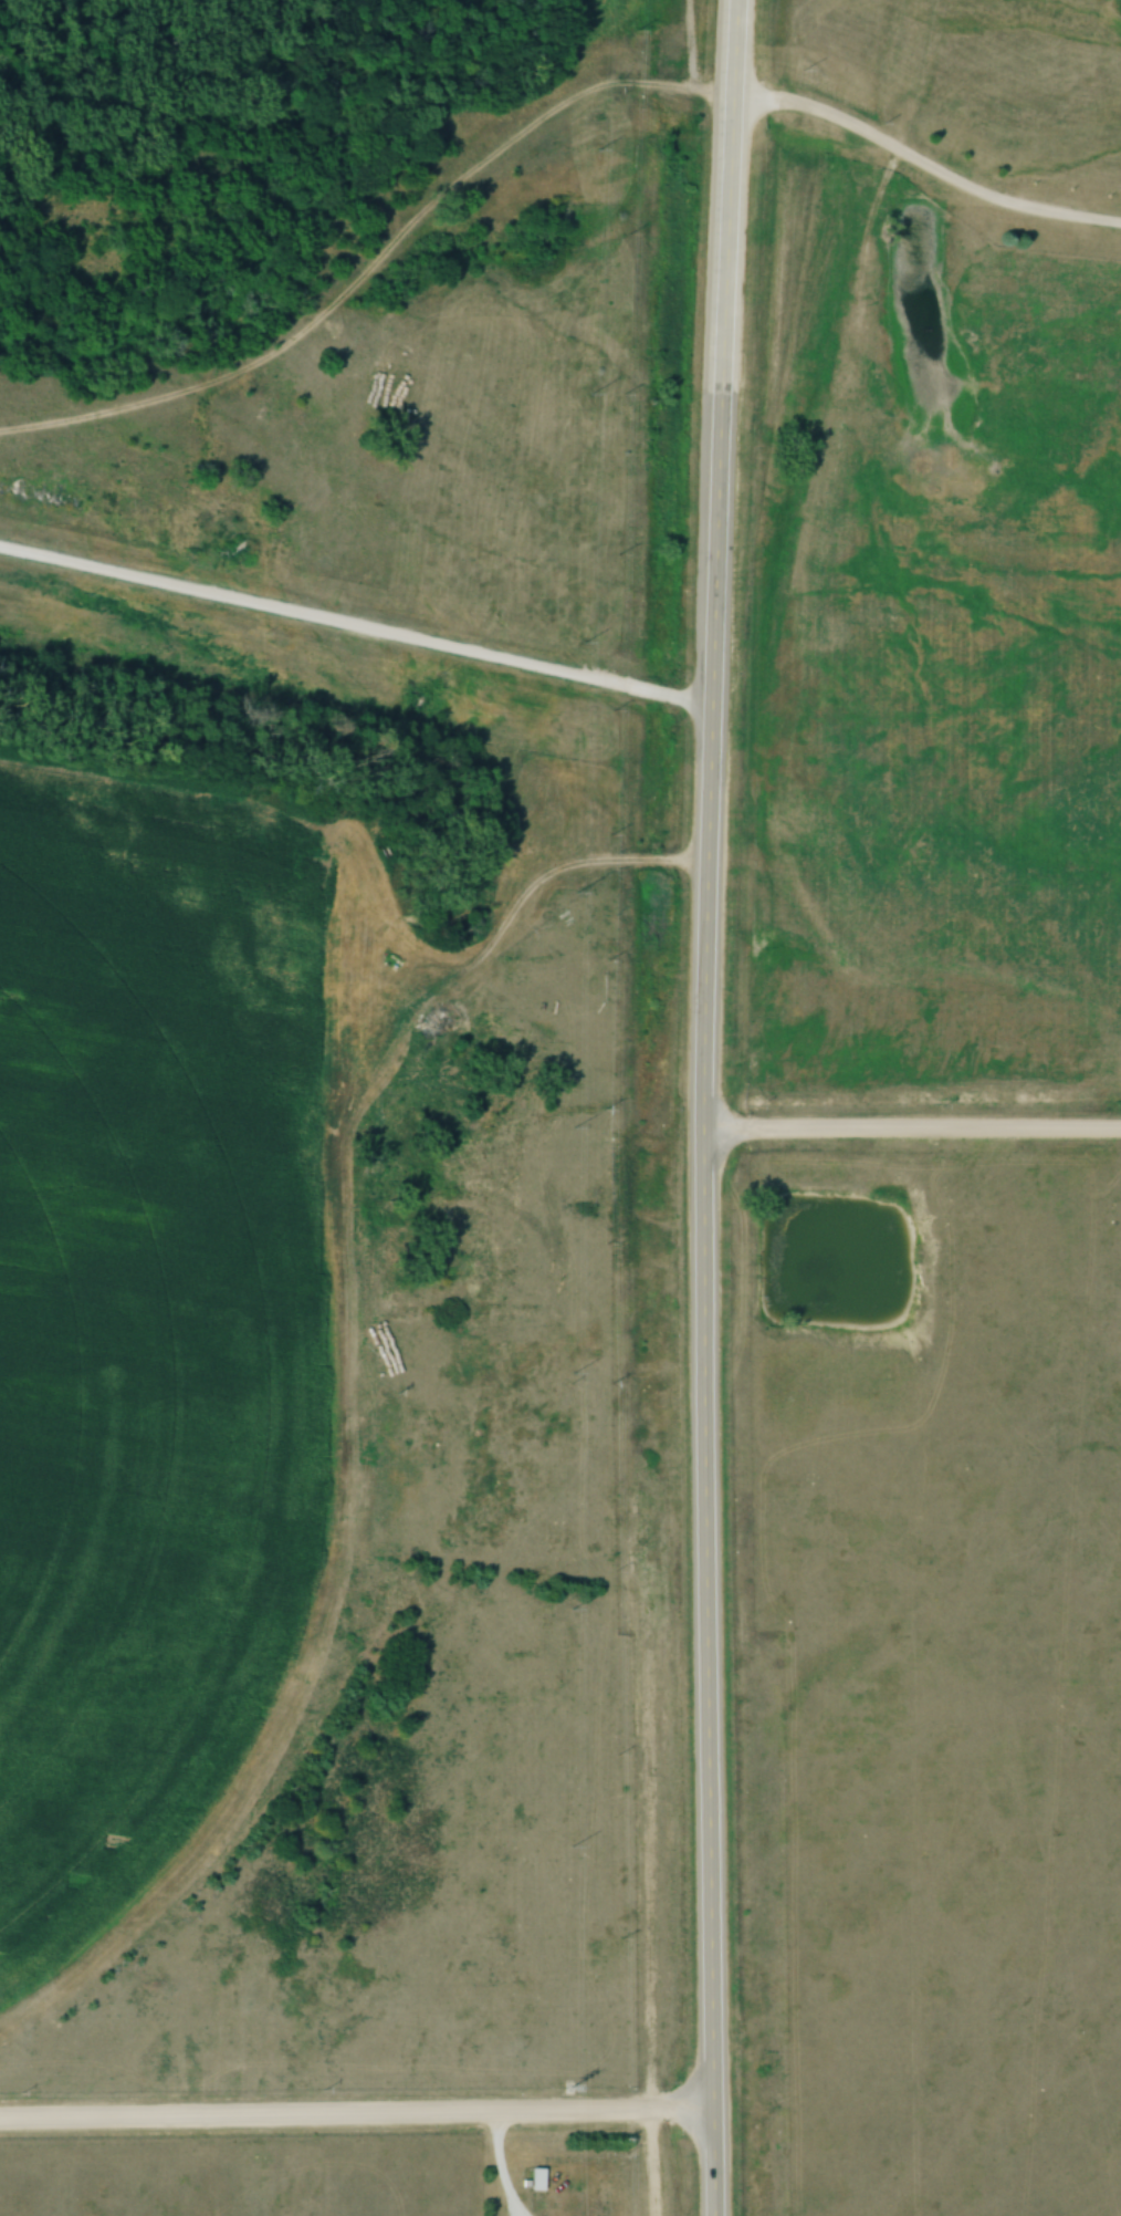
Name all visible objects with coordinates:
road: (921, 170)
road: (355, 626)
road: (698, 1107)
road: (909, 1133)
road: (642, 1903)
road: (354, 2120)
road: (494, 2166)
building: (535, 2179)

